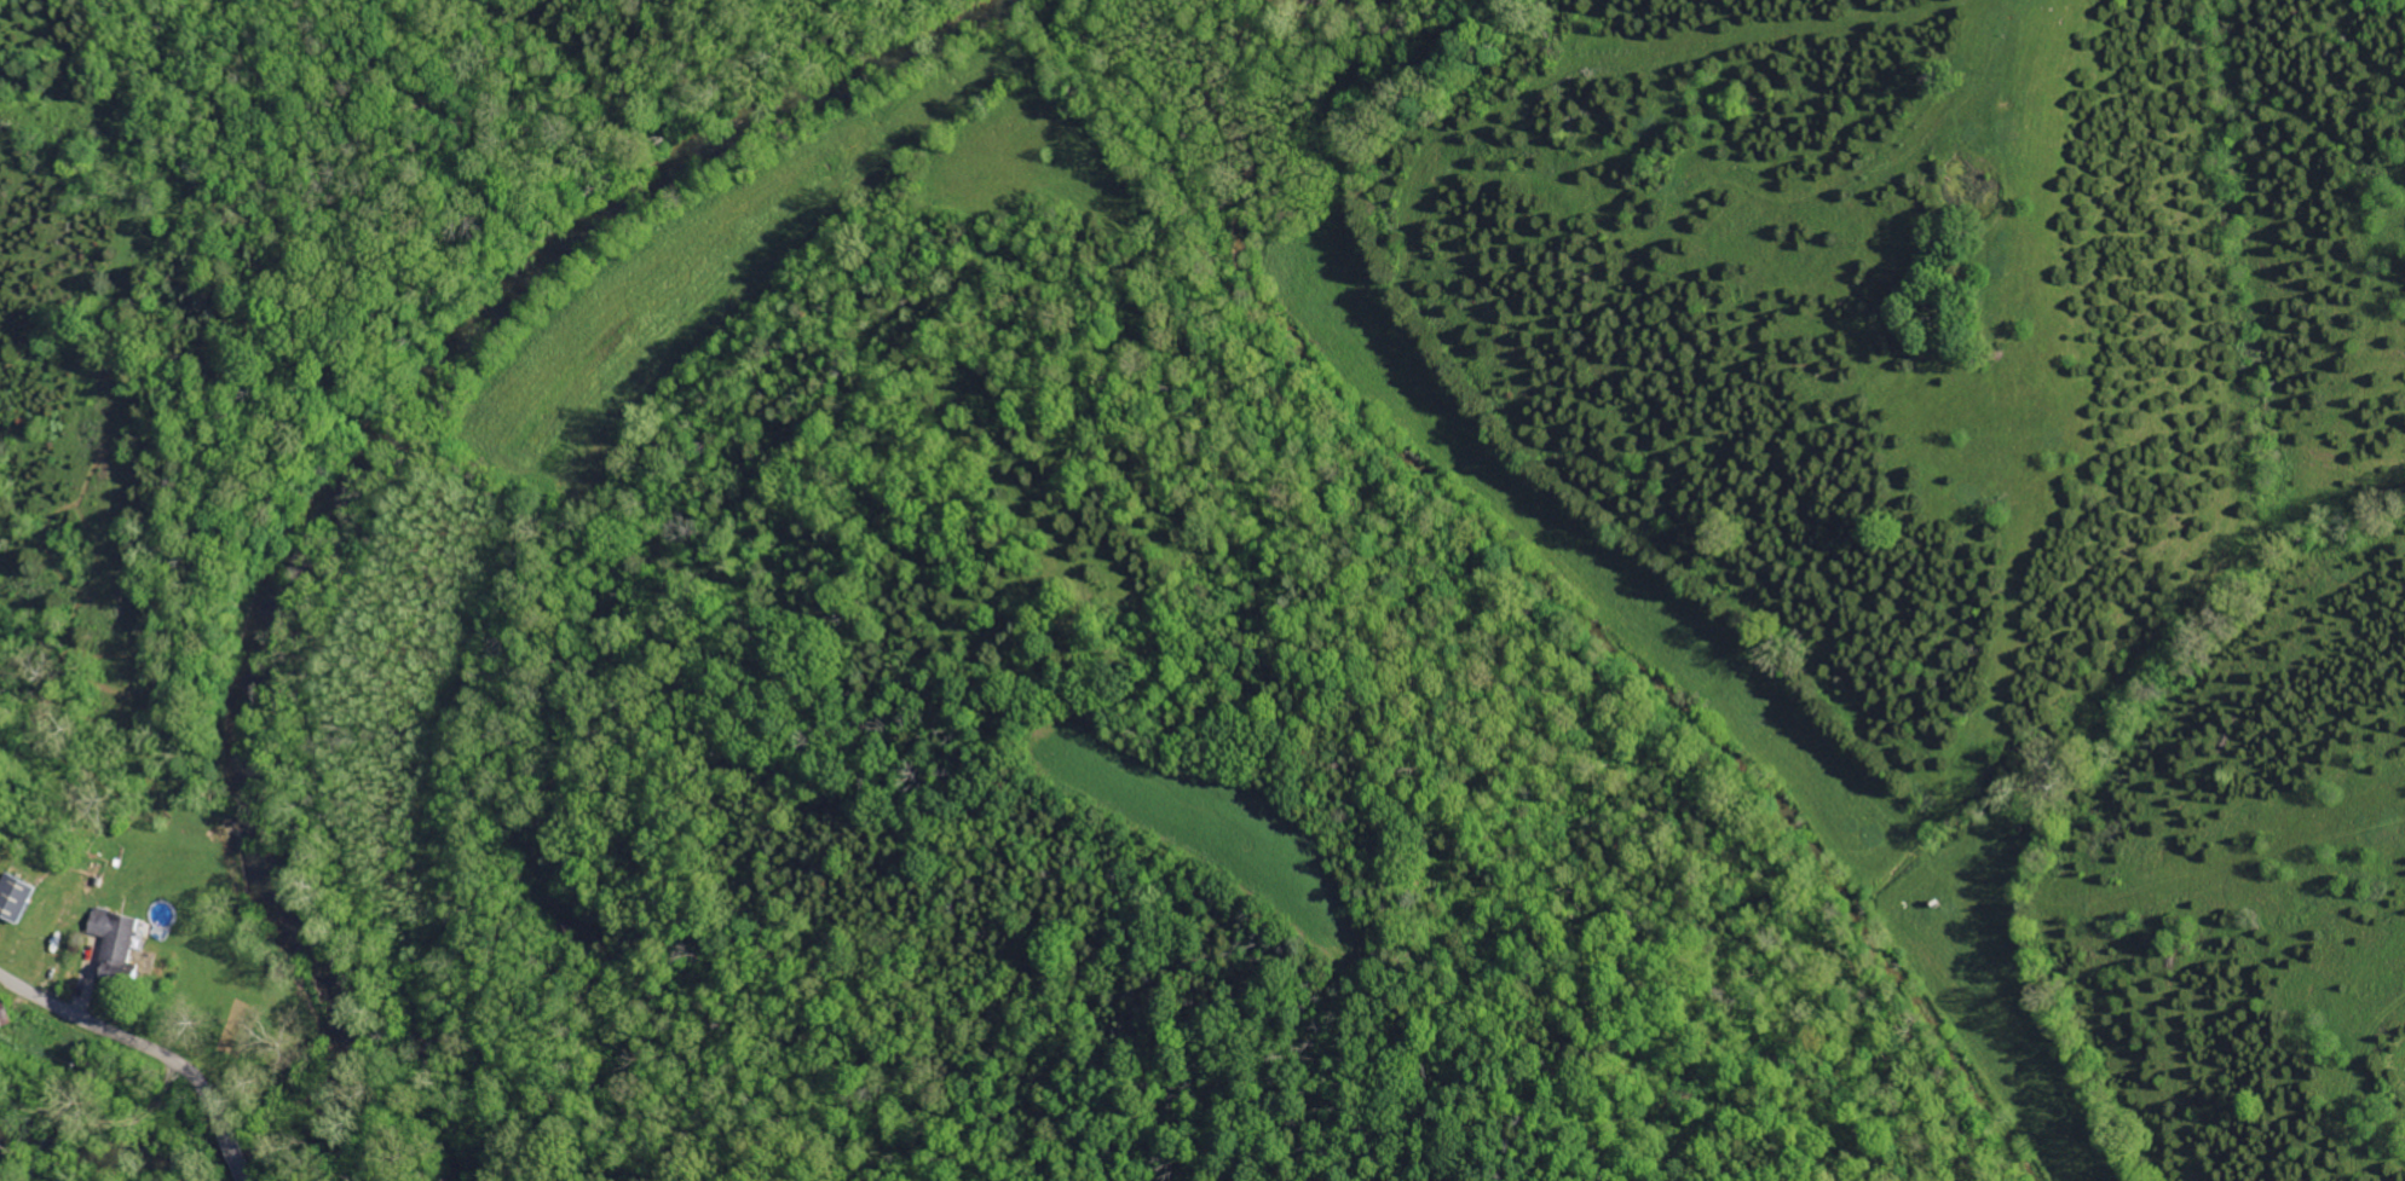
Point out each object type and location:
building: (114, 936)
road: (127, 1038)
road: (241, 1154)

